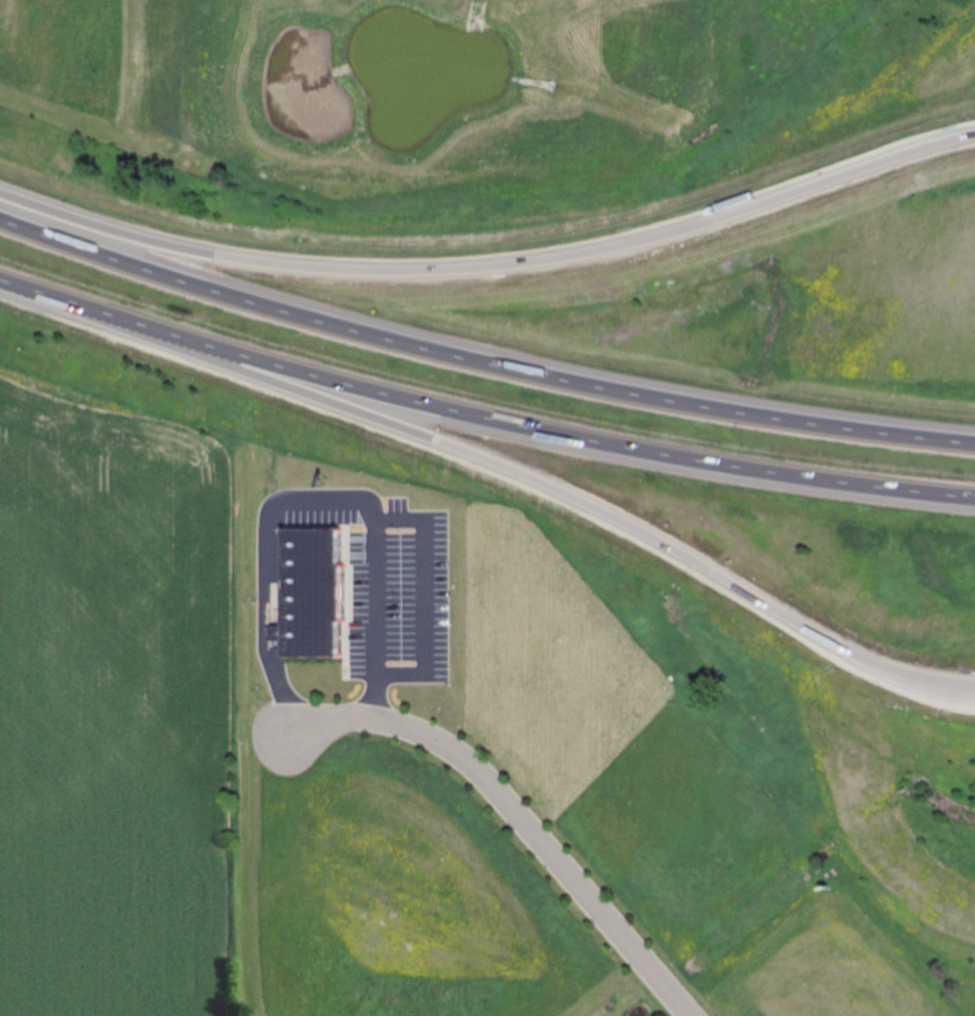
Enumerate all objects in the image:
road: (491, 267)
road: (480, 362)
road: (481, 416)
road: (501, 467)
road: (315, 501)
building: (322, 593)
road: (422, 596)
road: (515, 812)

